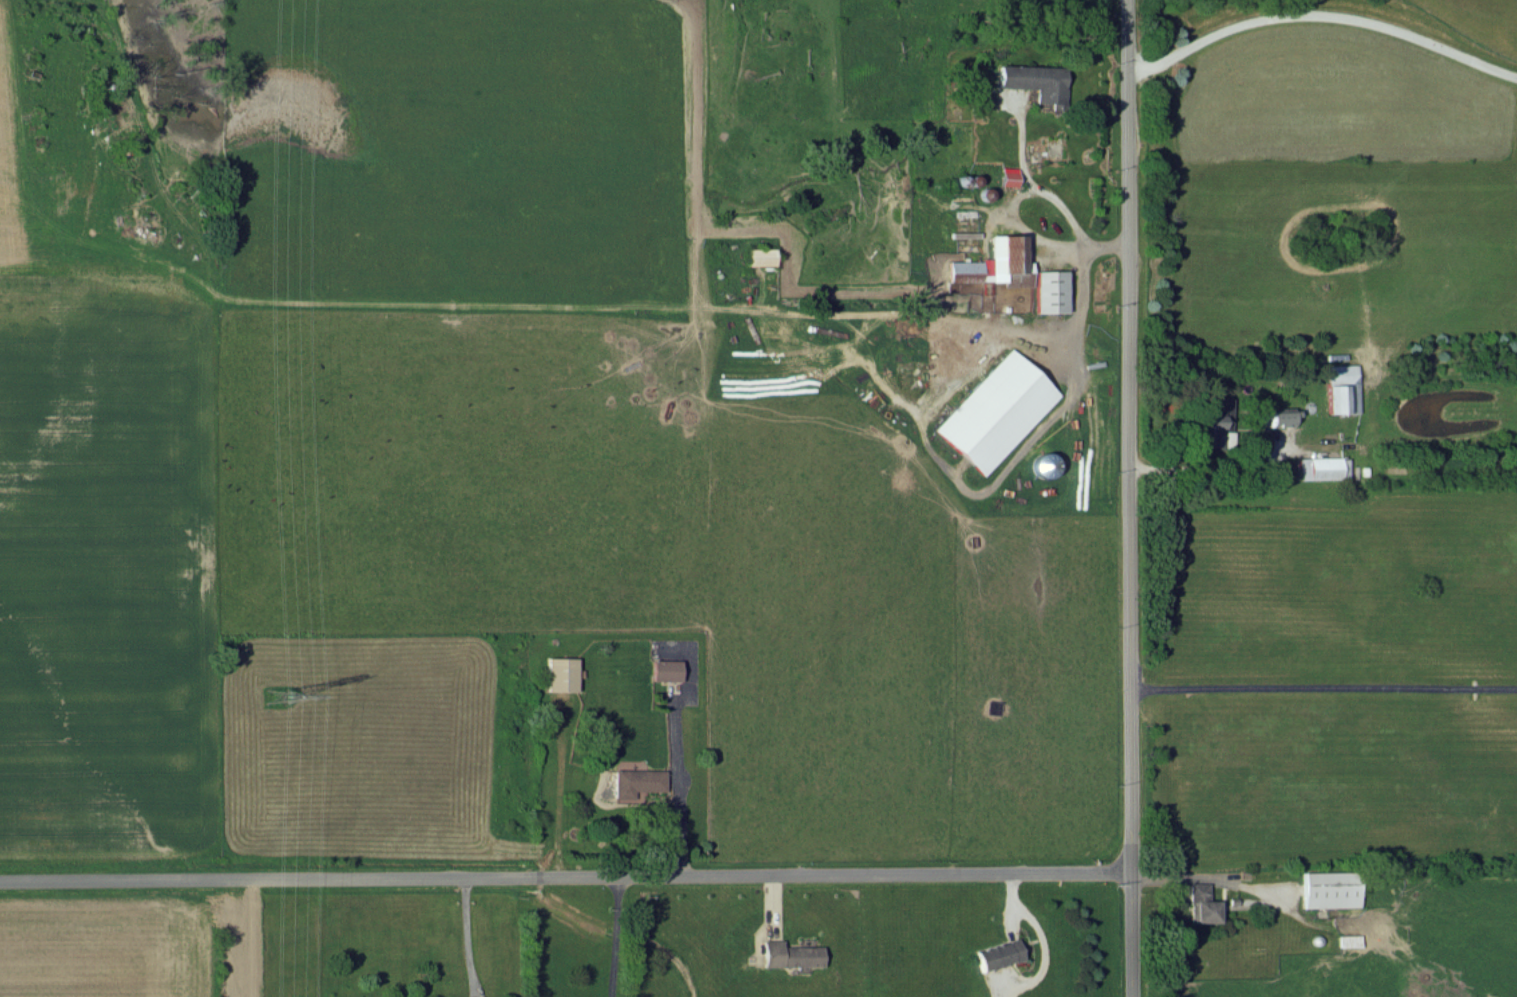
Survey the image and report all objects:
road: (1324, 15)
building: (1033, 80)
building: (1007, 175)
road: (1042, 194)
road: (1022, 229)
building: (994, 263)
building: (991, 287)
building: (1049, 291)
road: (1076, 296)
building: (1340, 388)
building: (996, 411)
building: (1281, 416)
building: (1212, 421)
building: (1044, 464)
road: (1201, 465)
building: (1321, 467)
road: (1126, 498)
building: (664, 669)
building: (560, 673)
road: (1325, 684)
power tower: (273, 702)
building: (635, 781)
road: (677, 789)
road: (566, 875)
building: (1327, 889)
building: (1199, 904)
road: (614, 936)
road: (468, 937)
building: (788, 954)
building: (997, 954)

